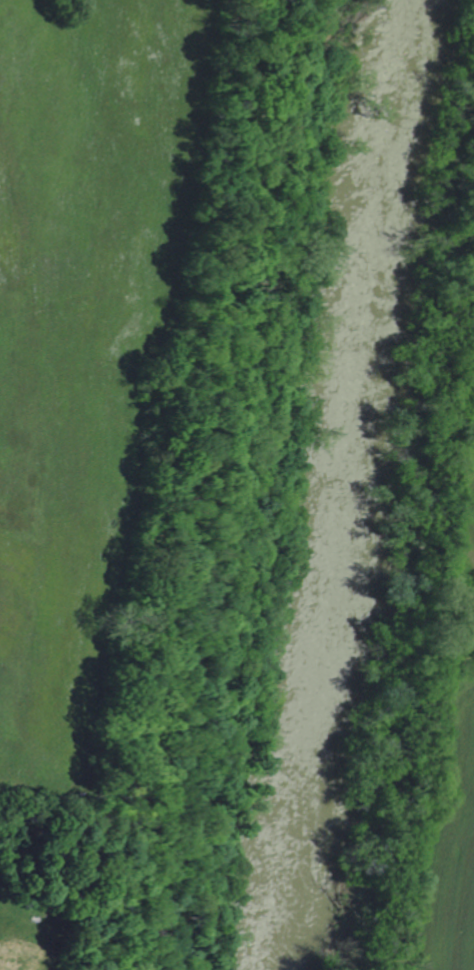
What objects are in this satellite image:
river: (332, 485)

